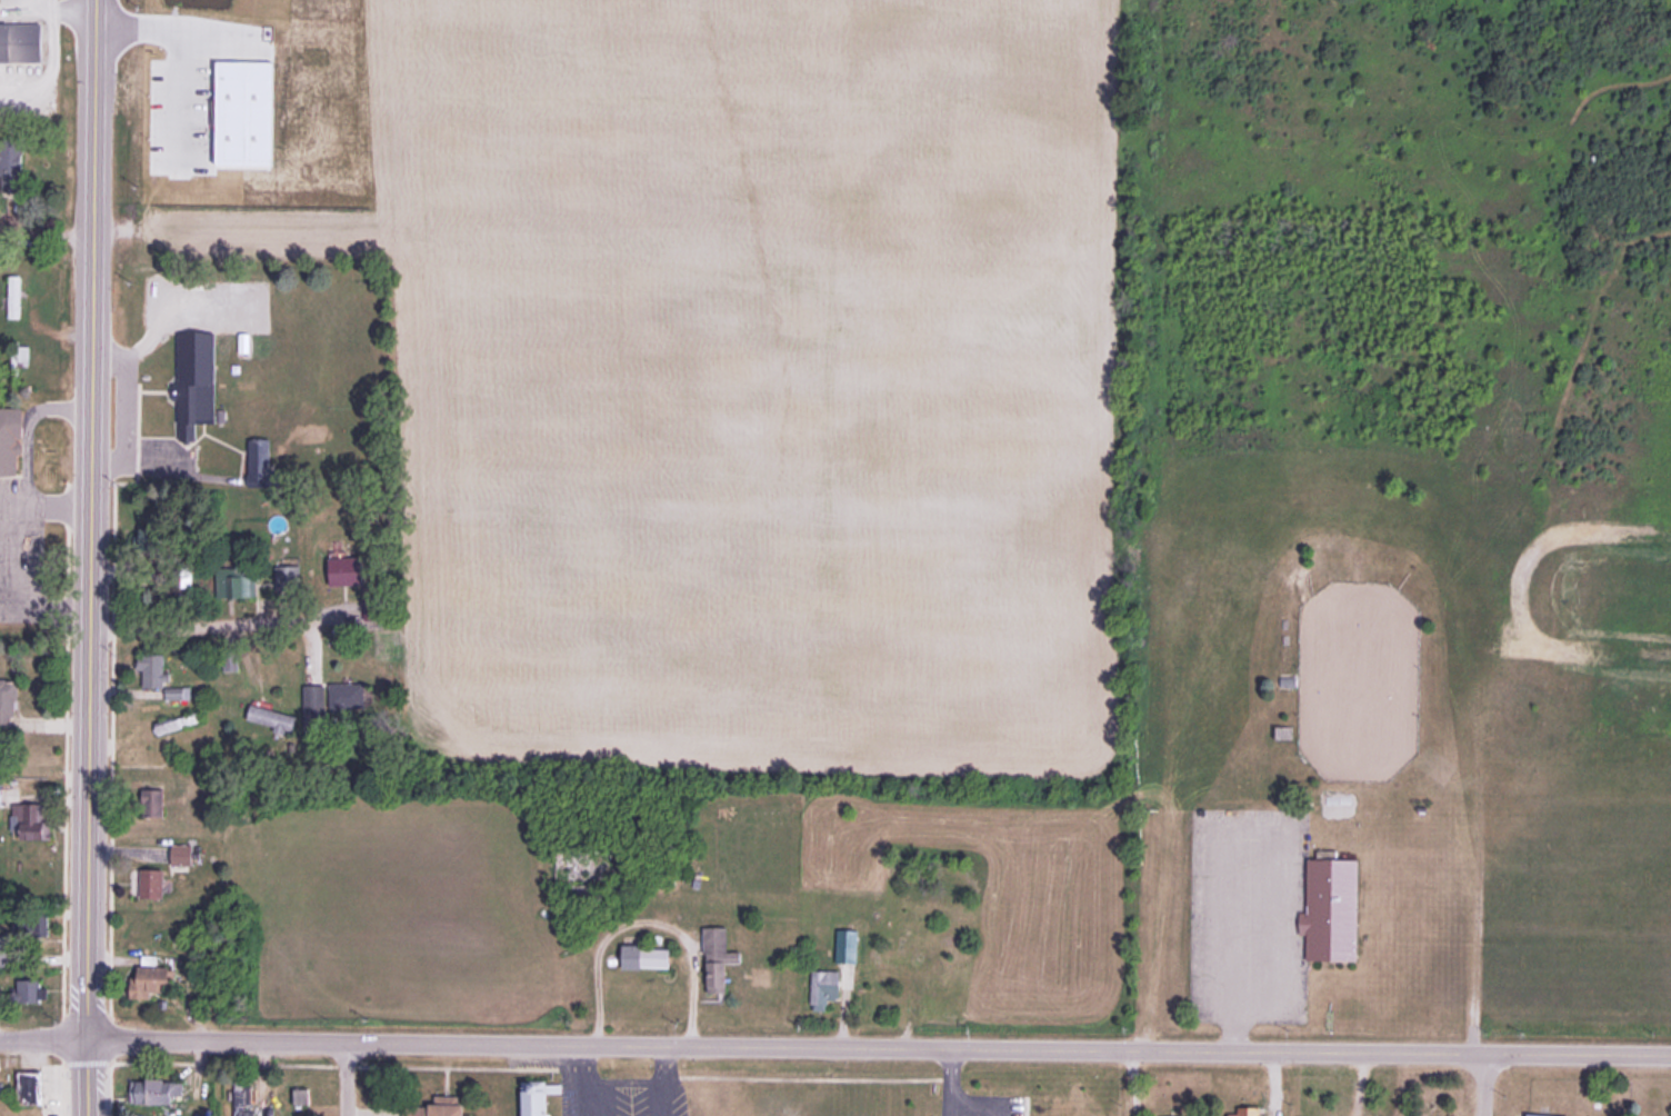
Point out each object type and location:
building: (21, 43)
building: (12, 163)
building: (14, 296)
building: (20, 355)
building: (202, 389)
road: (94, 520)
building: (143, 541)
building: (344, 570)
building: (288, 579)
building: (237, 585)
building: (230, 660)
building: (158, 675)
building: (347, 695)
building: (313, 696)
building: (8, 707)
building: (274, 720)
building: (179, 723)
building: (2, 794)
building: (159, 803)
building: (33, 821)
building: (182, 854)
building: (591, 868)
building: (153, 884)
building: (1332, 908)
road: (654, 911)
building: (24, 929)
building: (847, 946)
building: (647, 956)
building: (718, 958)
building: (153, 980)
building: (826, 987)
building: (27, 990)
road: (44, 1040)
road: (880, 1046)
road: (90, 1078)
road: (347, 1079)
road: (1487, 1084)
building: (29, 1087)
building: (157, 1090)
building: (539, 1096)
building: (242, 1098)
building: (440, 1107)
building: (1258, 1108)
building: (1545, 1114)

